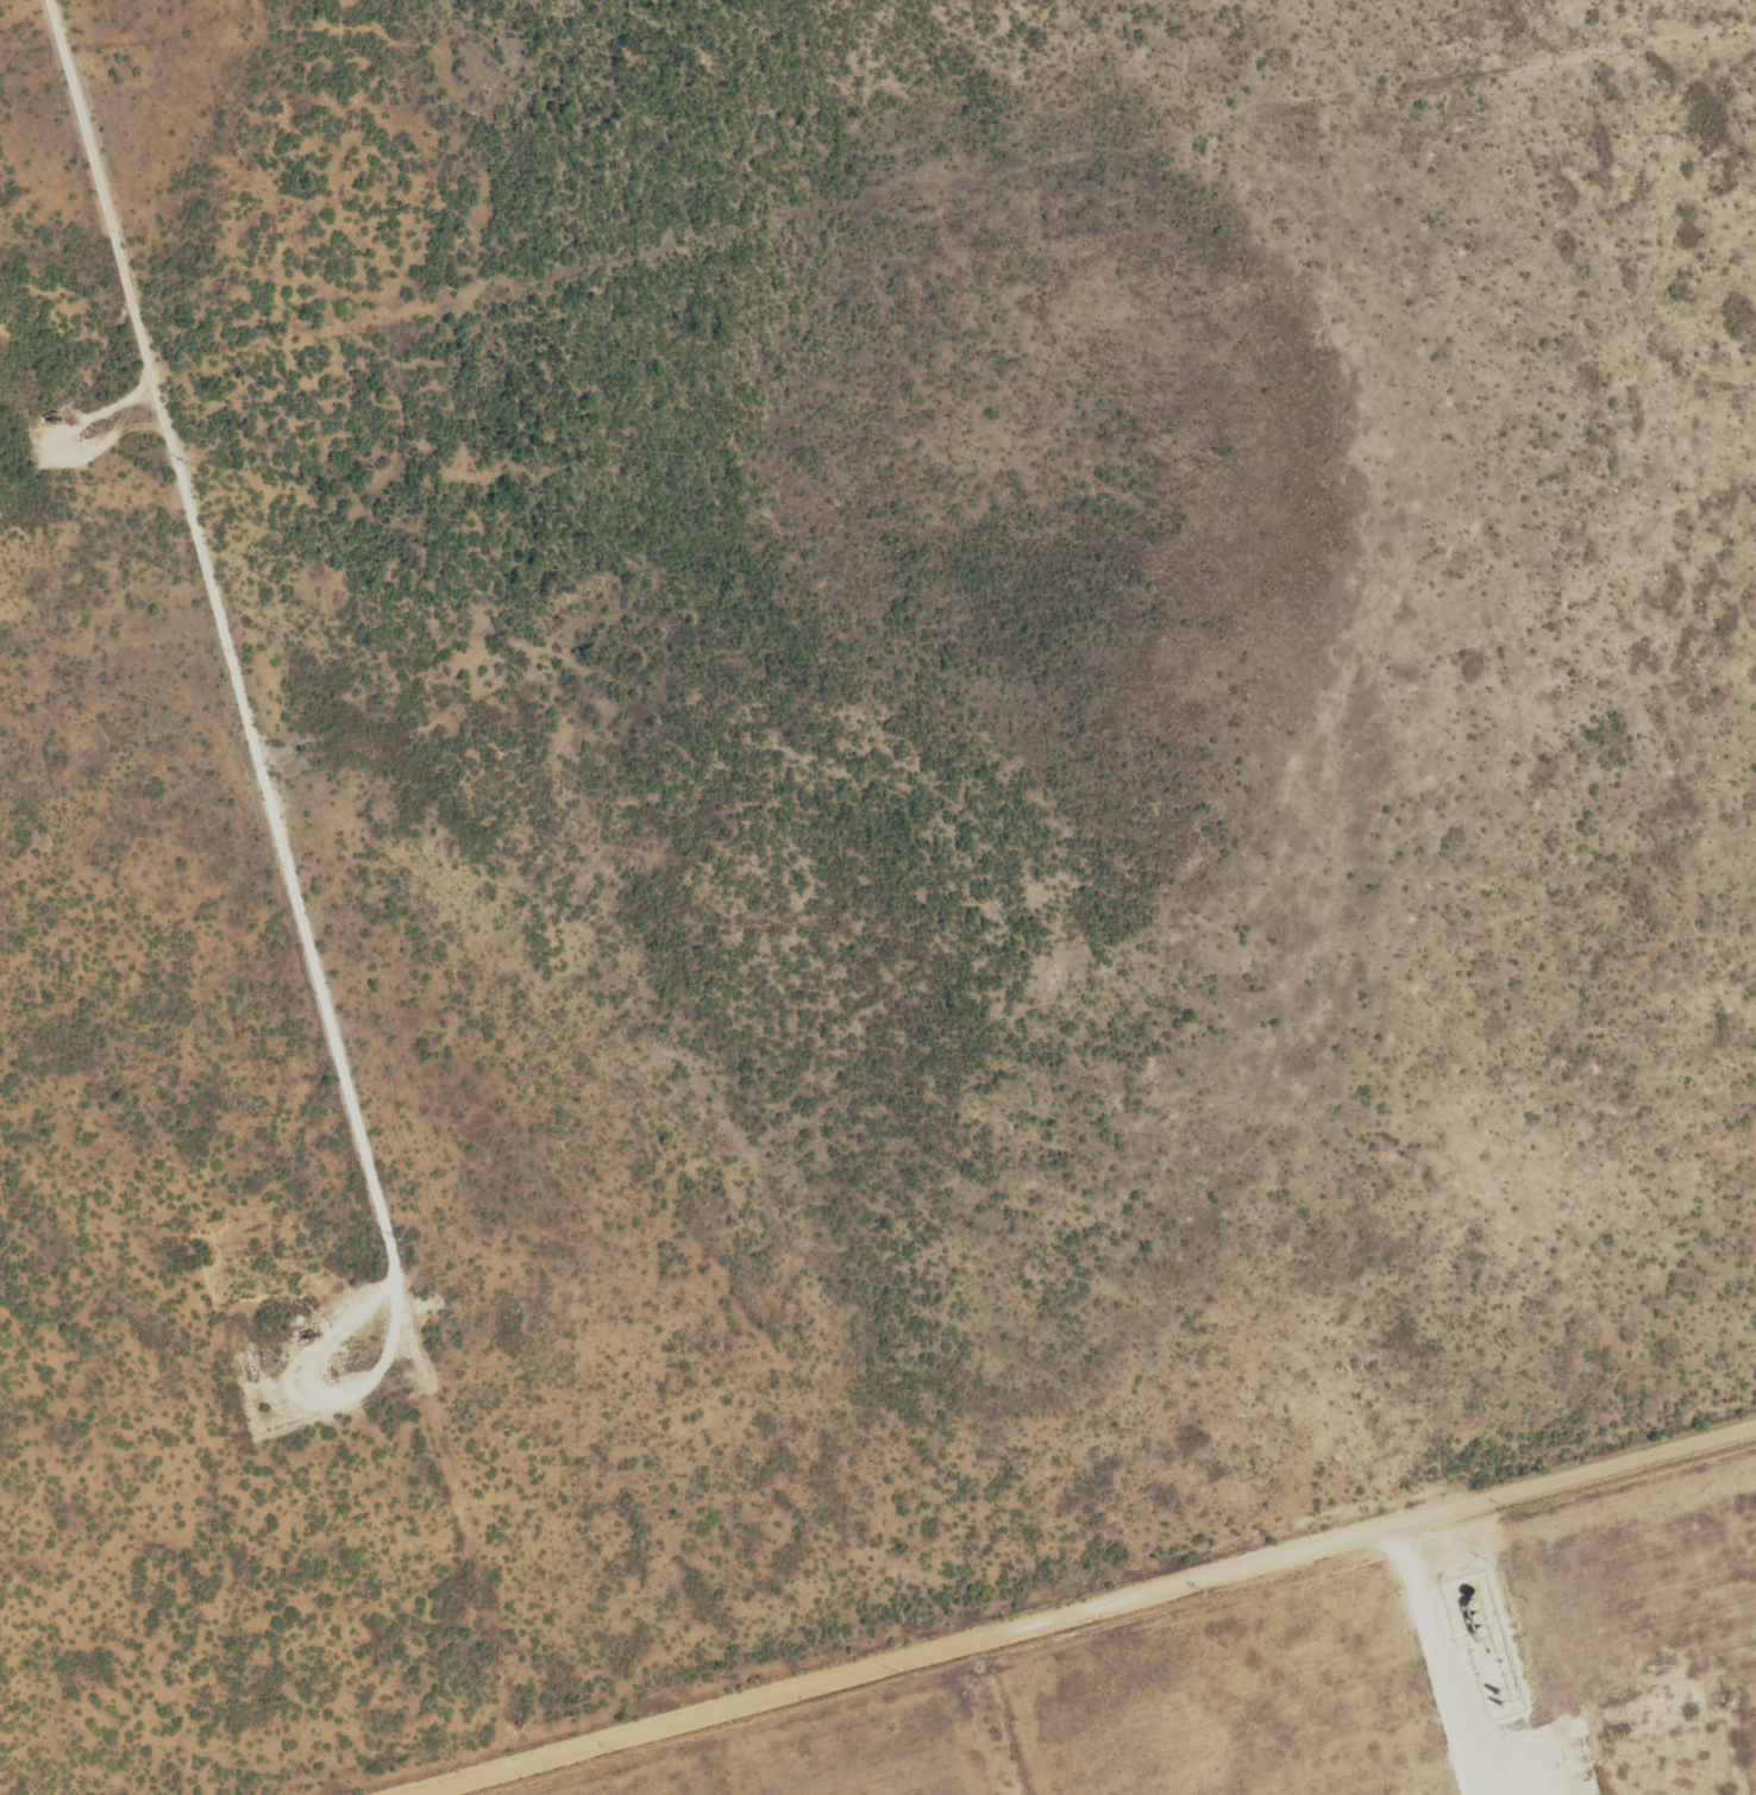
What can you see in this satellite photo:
road: (300, 886)
road: (1105, 1614)
road: (1436, 1665)

